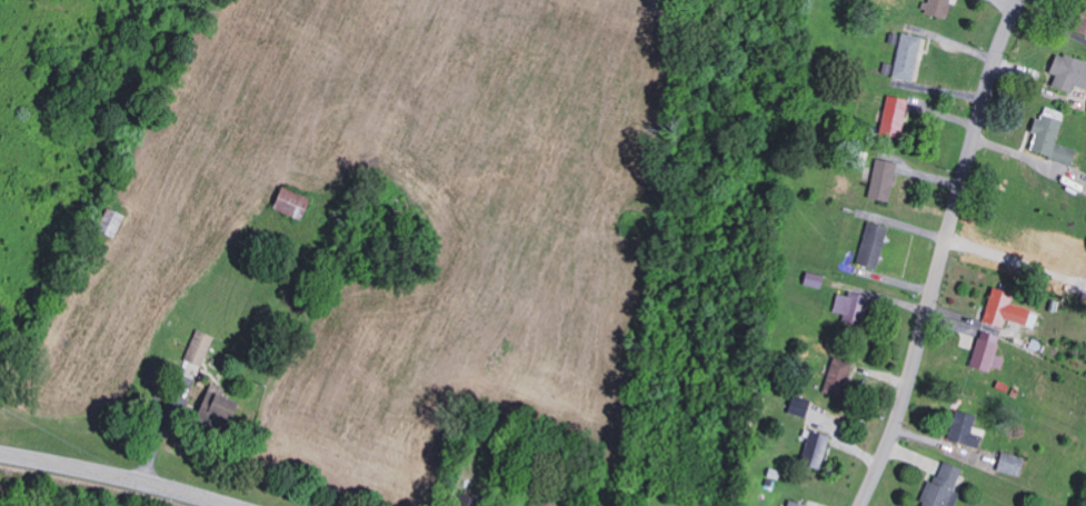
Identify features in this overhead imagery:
building: (933, 7)
building: (1079, 23)
building: (903, 54)
building: (1062, 70)
building: (890, 116)
building: (1047, 137)
building: (287, 202)
building: (868, 245)
road: (941, 254)
building: (809, 278)
building: (848, 306)
building: (1000, 309)
building: (196, 347)
building: (984, 351)
building: (835, 373)
building: (796, 406)
building: (215, 407)
building: (962, 429)
building: (811, 449)
building: (1007, 464)
road: (113, 475)
building: (938, 484)
building: (791, 504)

